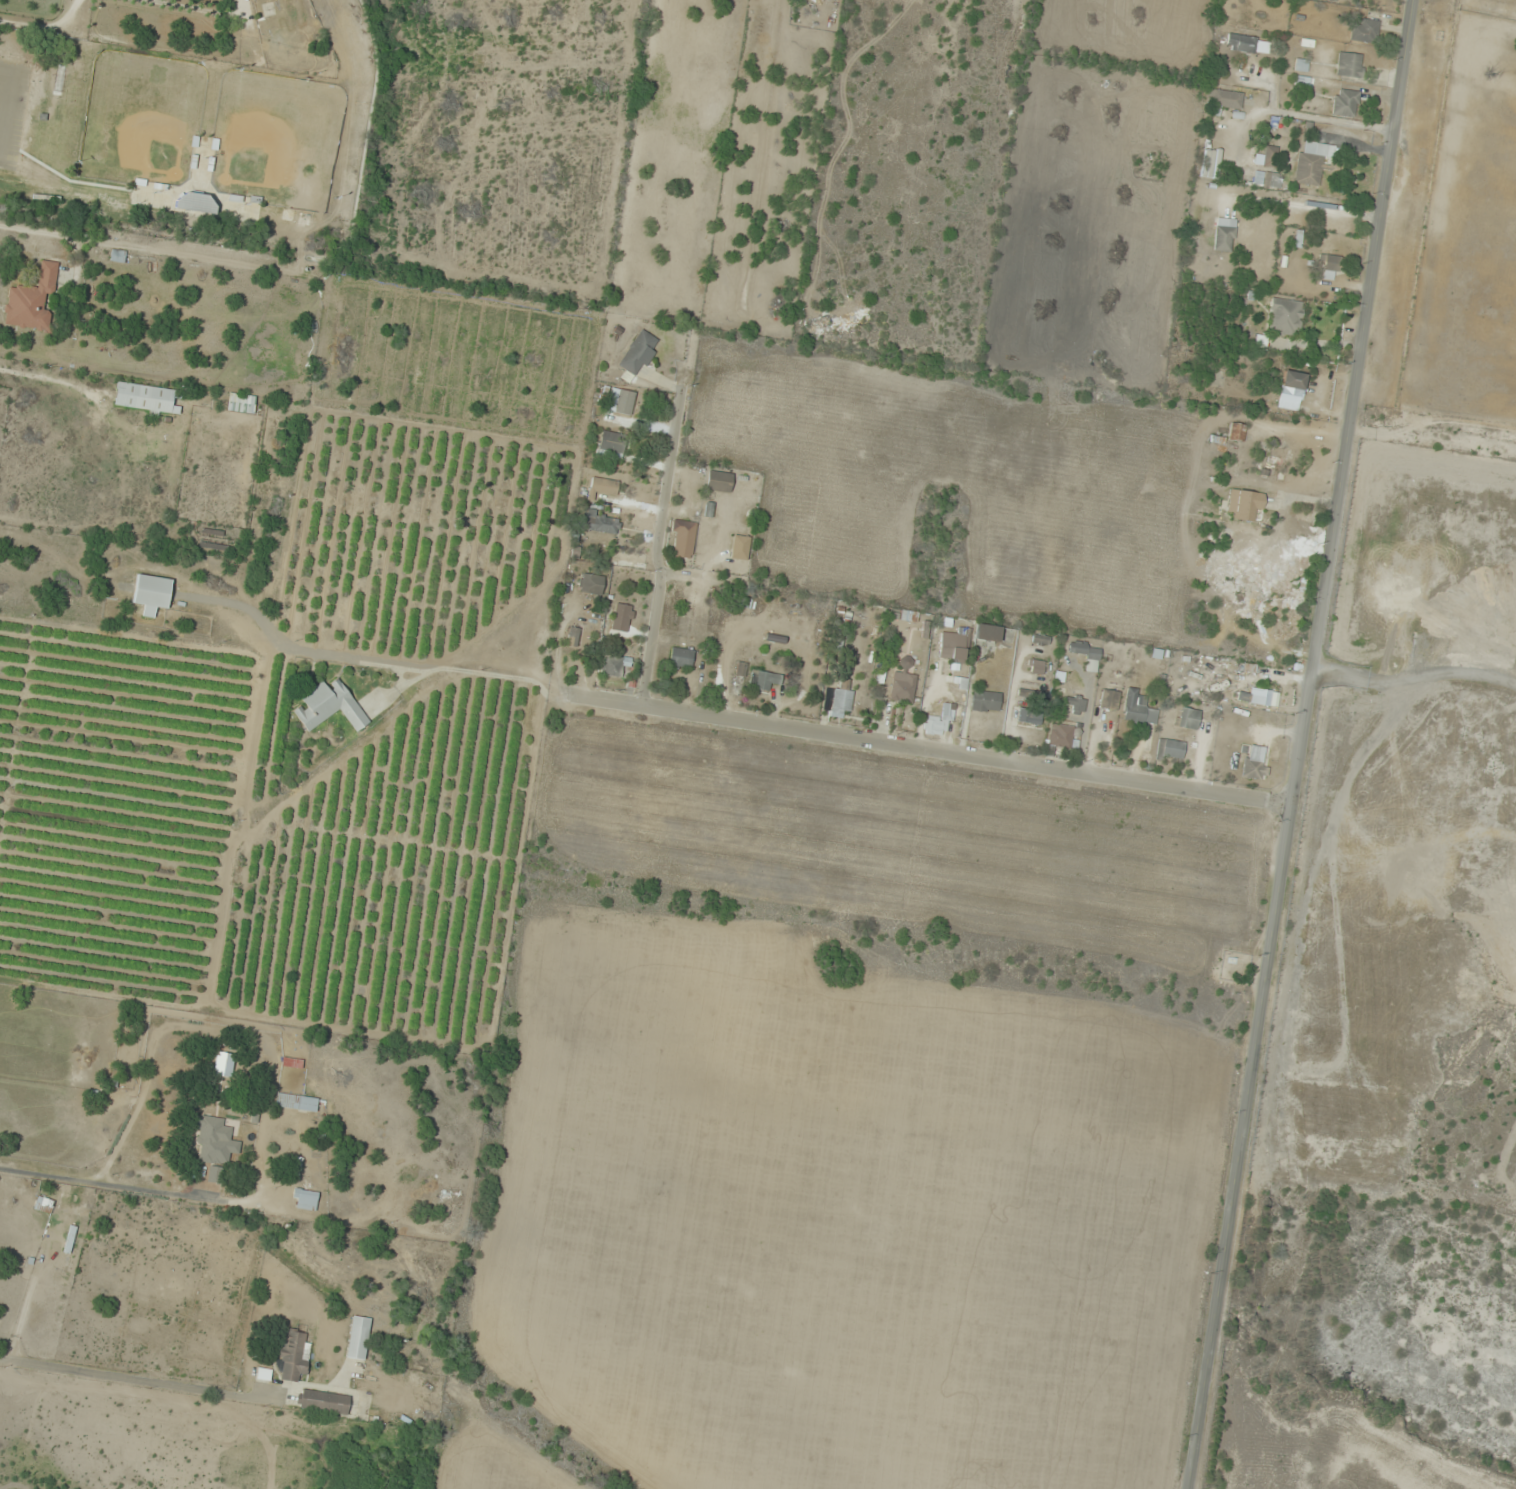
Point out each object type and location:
building: (1364, 30)
building: (1241, 43)
building: (1350, 65)
building: (1226, 100)
building: (1345, 103)
building: (205, 143)
building: (1314, 162)
building: (1212, 164)
building: (1272, 181)
building: (195, 202)
building: (1225, 234)
building: (1330, 266)
building: (31, 301)
building: (1285, 317)
building: (639, 353)
building: (1291, 390)
building: (144, 397)
building: (624, 403)
building: (241, 404)
building: (1237, 432)
building: (612, 443)
building: (1279, 455)
building: (719, 482)
building: (604, 487)
building: (1244, 504)
building: (601, 524)
road: (662, 538)
building: (683, 538)
building: (740, 543)
building: (627, 560)
building: (591, 584)
building: (151, 594)
building: (623, 613)
building: (904, 615)
building: (987, 633)
building: (573, 636)
building: (954, 644)
building: (1084, 650)
building: (680, 657)
building: (615, 666)
building: (1037, 667)
building: (766, 681)
building: (903, 683)
building: (962, 683)
building: (1030, 694)
building: (1258, 697)
building: (1109, 699)
building: (841, 700)
building: (986, 700)
building: (1074, 703)
building: (329, 707)
building: (1029, 716)
building: (1187, 718)
building: (934, 726)
building: (1060, 736)
road: (1298, 744)
building: (1170, 749)
road: (966, 750)
building: (1254, 768)
building: (296, 1103)
building: (213, 1139)
building: (306, 1170)
building: (216, 1176)
building: (305, 1199)
building: (44, 1204)
building: (358, 1337)
building: (294, 1355)
building: (323, 1401)

